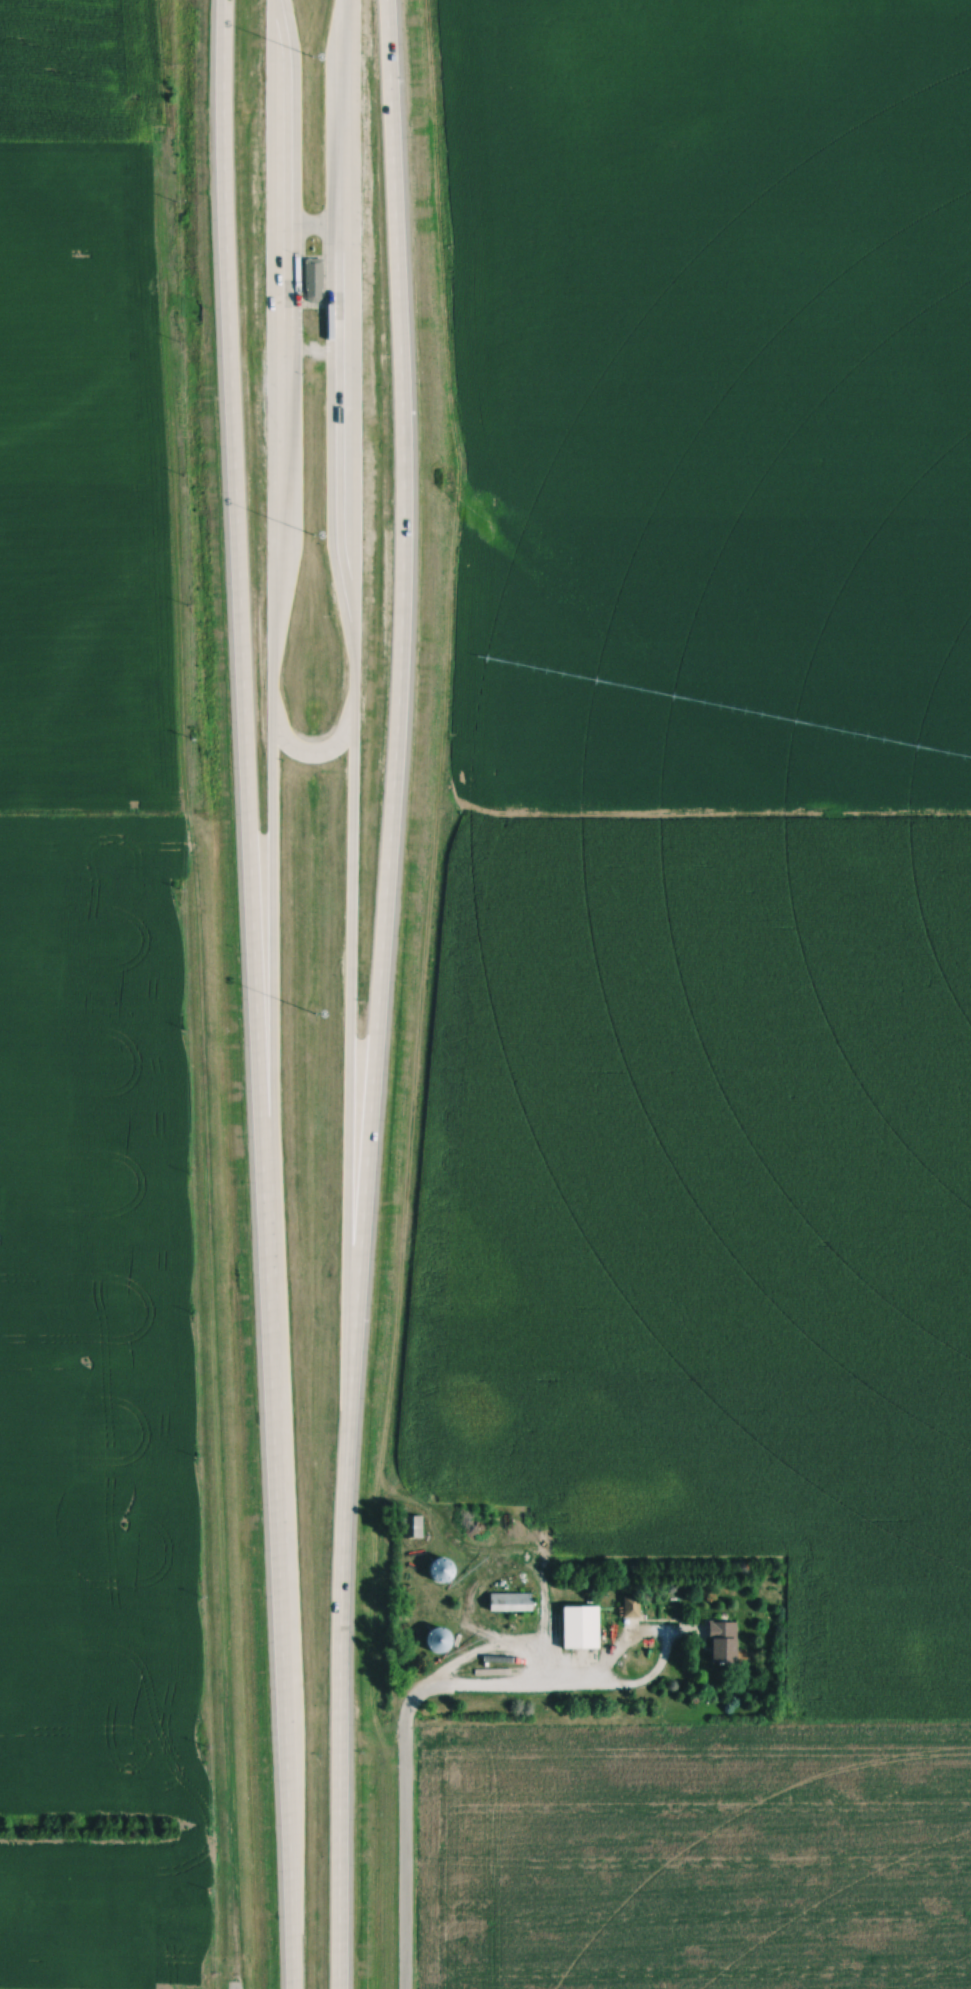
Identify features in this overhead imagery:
building: (314, 278)
road: (315, 753)
road: (268, 967)
road: (255, 994)
road: (379, 994)
road: (354, 1010)
building: (443, 1568)
building: (513, 1602)
building: (586, 1626)
building: (444, 1639)
road: (627, 1640)
building: (727, 1642)
road: (494, 1644)
road: (503, 1690)
road: (401, 1845)

